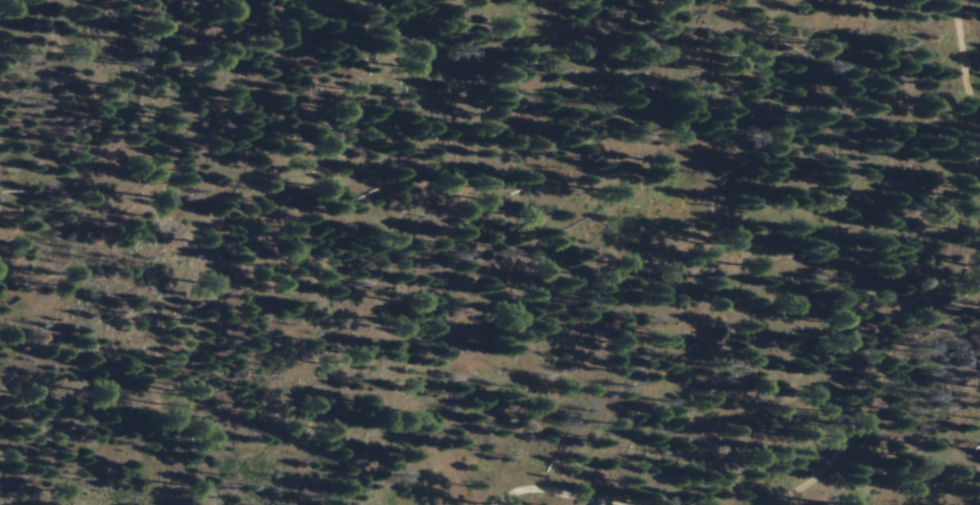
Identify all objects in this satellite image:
road: (890, 313)
road: (545, 489)

